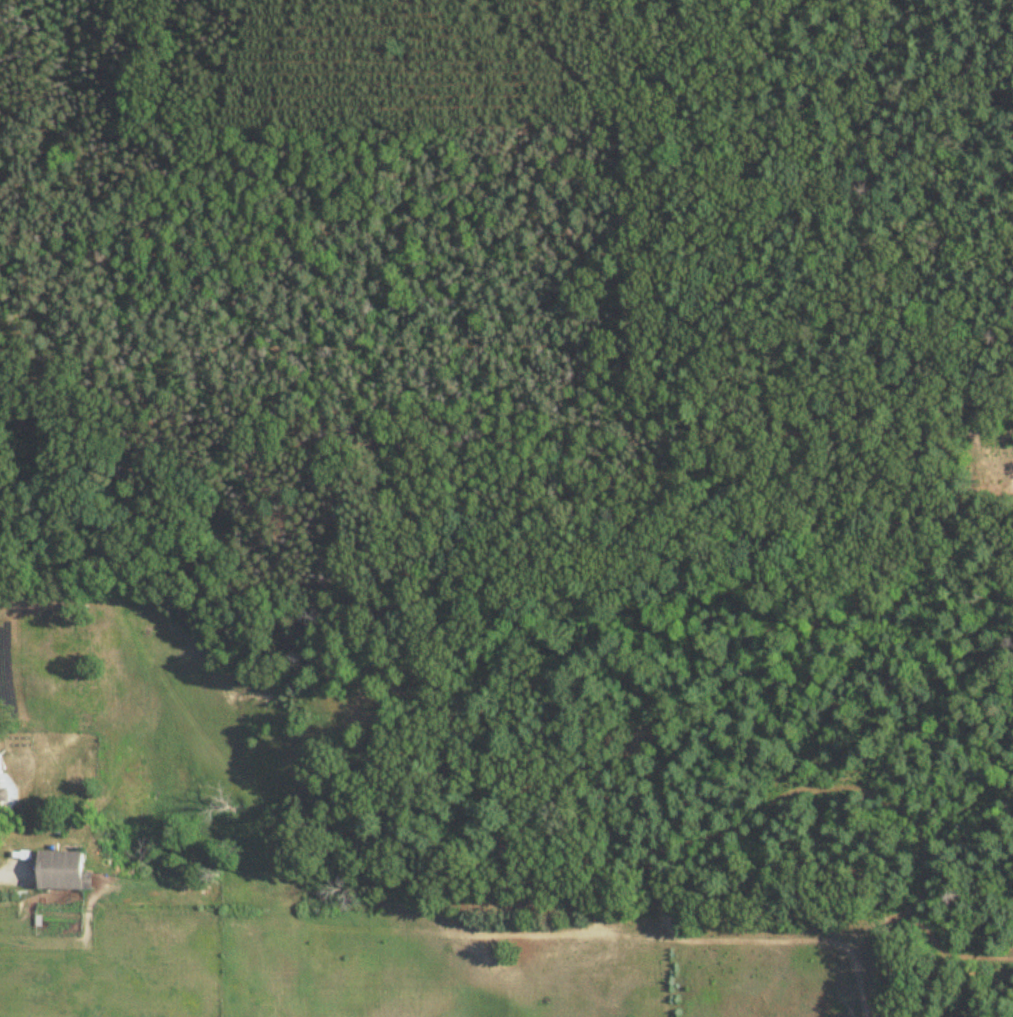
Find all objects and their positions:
road: (198, 333)
road: (623, 362)
building: (2, 784)
building: (64, 870)

